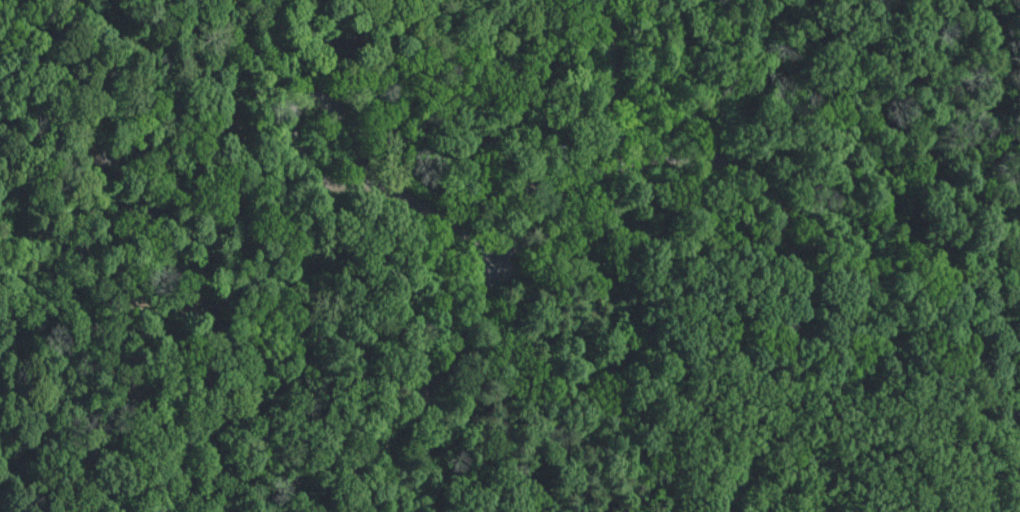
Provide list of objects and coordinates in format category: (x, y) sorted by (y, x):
building: (373, 0)
building: (409, 1)
road: (270, 24)
parking lot: (361, 39)
parking lot: (615, 59)
road: (619, 90)
road: (296, 113)
road: (648, 159)
road: (108, 181)
road: (439, 219)
road: (907, 278)
road: (125, 374)

